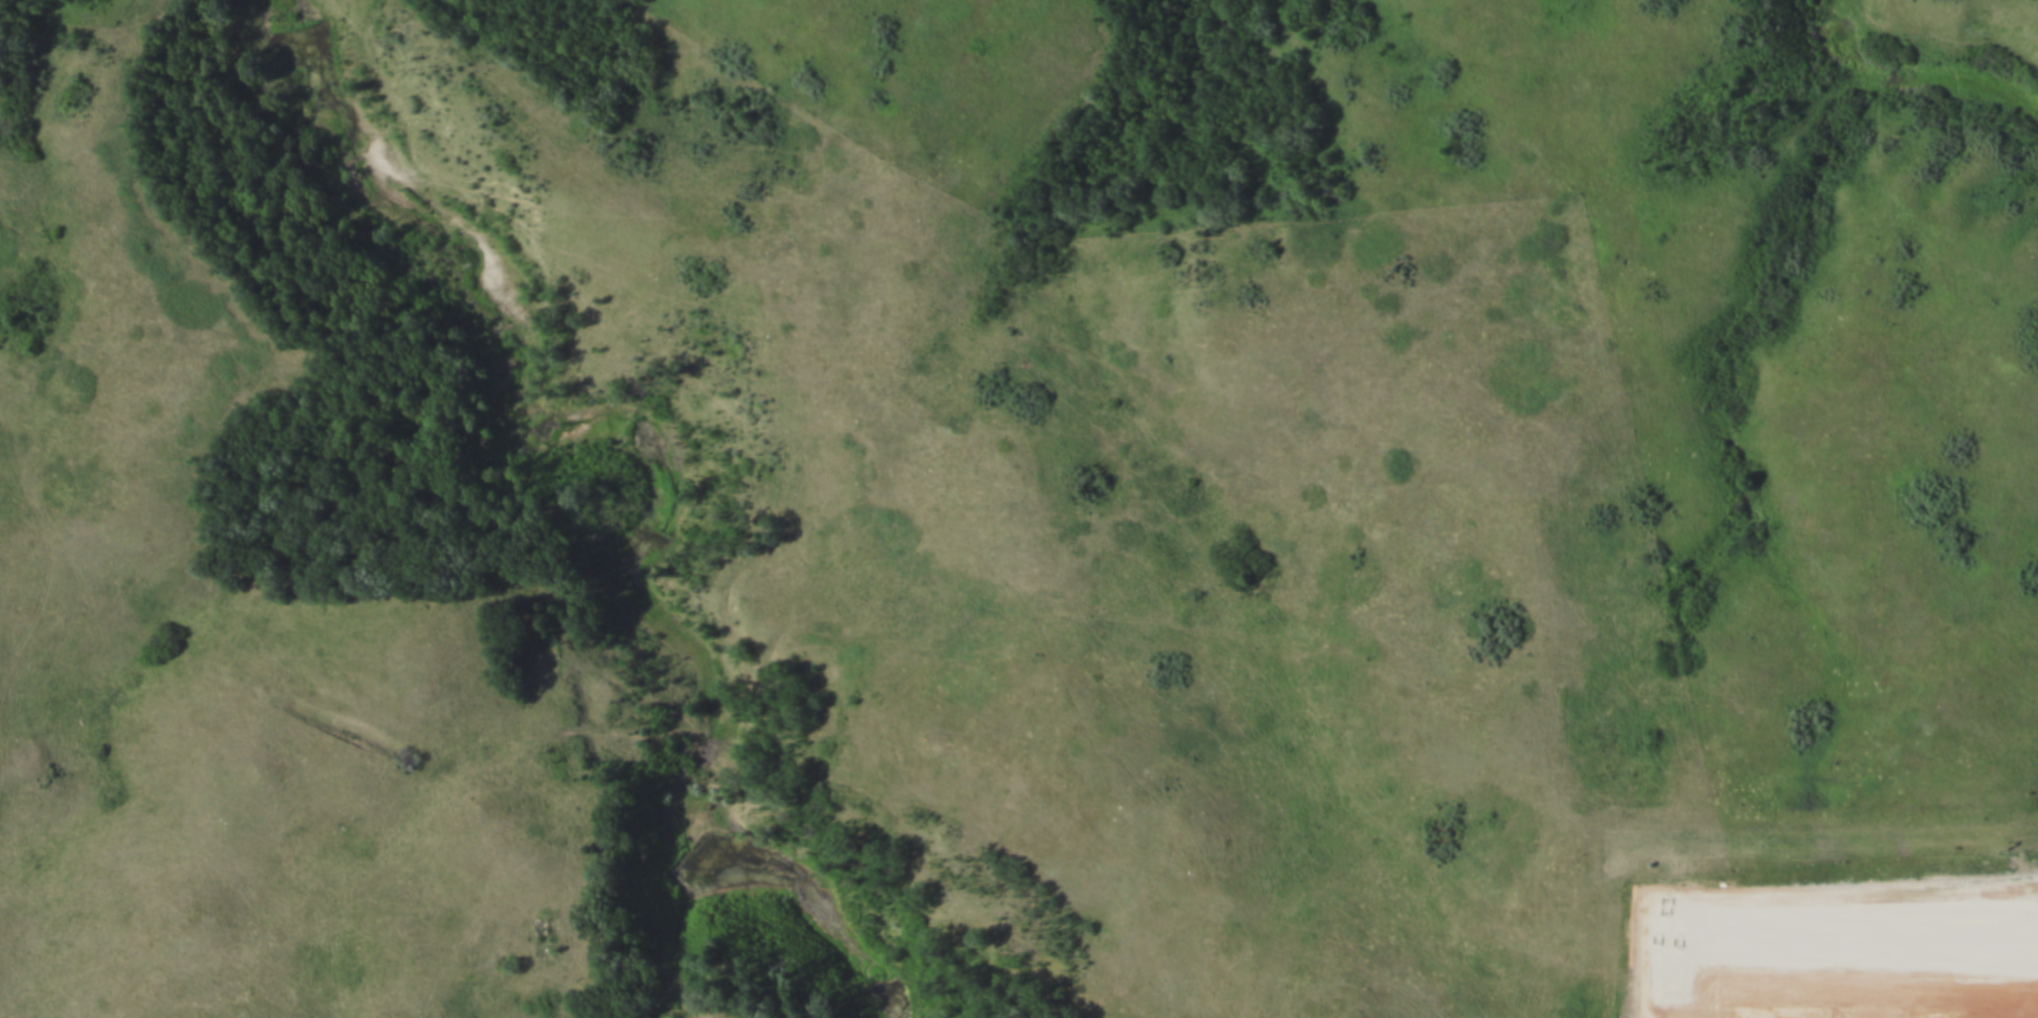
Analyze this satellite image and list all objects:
building: (1674, 957)
storage tank: (1674, 957)
building: (1662, 958)
storage tank: (1662, 958)
building: (1694, 960)
storage tank: (1694, 960)
road: (1860, 965)
building: (1660, 968)
storage tank: (1660, 968)
building: (1673, 970)
storage tank: (1673, 970)
building: (1693, 971)
storage tank: (1693, 971)
building: (1659, 980)
storage tank: (1659, 980)
building: (1673, 981)
storage tank: (1673, 981)
building: (1693, 983)
storage tank: (1693, 983)
building: (1658, 992)
storage tank: (1658, 992)
building: (1672, 992)
storage tank: (1672, 992)
building: (1692, 994)
storage tank: (1692, 994)
building: (1657, 1003)
storage tank: (1657, 1003)
building: (1670, 1004)
storage tank: (1670, 1004)
building: (1691, 1006)
storage tank: (1691, 1006)

